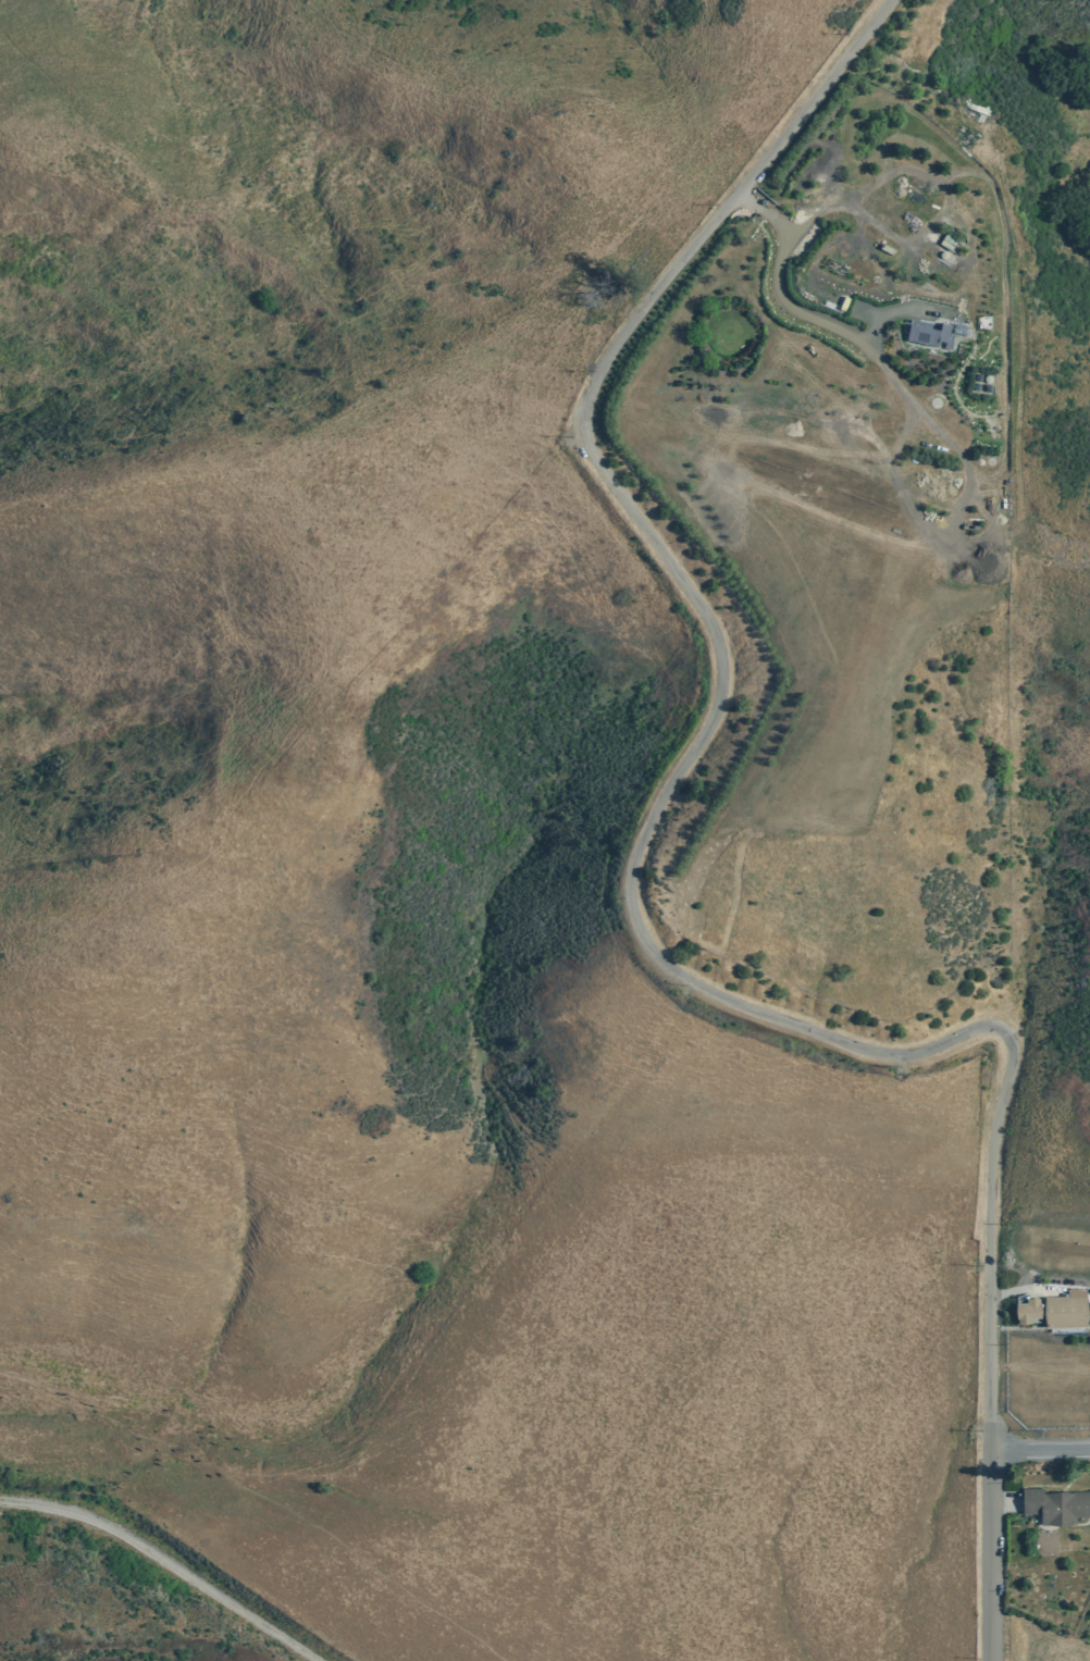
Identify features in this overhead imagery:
road: (973, 163)
building: (940, 236)
building: (936, 253)
storage tank: (936, 253)
road: (901, 308)
road: (828, 329)
road: (871, 330)
building: (930, 335)
road: (631, 883)
road: (1015, 1267)
road: (1025, 1289)
building: (1088, 1290)
building: (1027, 1310)
building: (1065, 1310)
road: (1040, 1450)
road: (1003, 1501)
building: (1055, 1505)
road: (1089, 1534)
road: (161, 1564)
road: (990, 1639)
road: (1005, 1639)
park: (1042, 1640)

